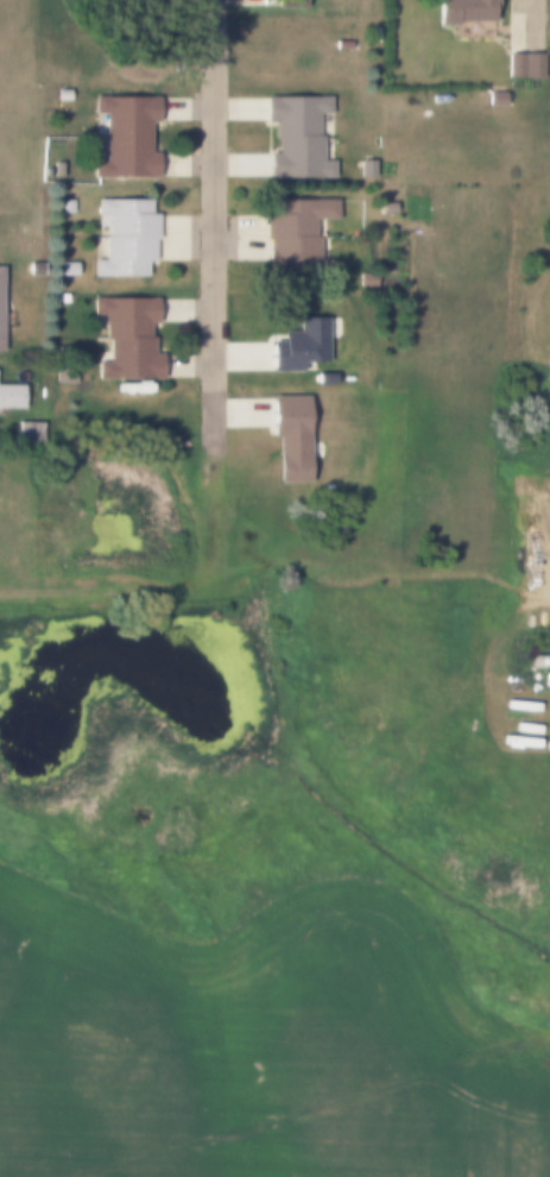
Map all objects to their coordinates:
road: (536, 10)
building: (463, 11)
storage tank: (377, 34)
building: (342, 44)
building: (523, 65)
building: (62, 95)
building: (493, 97)
building: (125, 136)
building: (296, 137)
building: (366, 168)
building: (57, 169)
road: (217, 194)
building: (65, 206)
building: (387, 209)
building: (296, 232)
building: (126, 237)
building: (33, 269)
building: (67, 269)
building: (62, 298)
building: (127, 339)
building: (298, 345)
building: (324, 377)
building: (11, 396)
building: (29, 433)
building: (289, 436)

